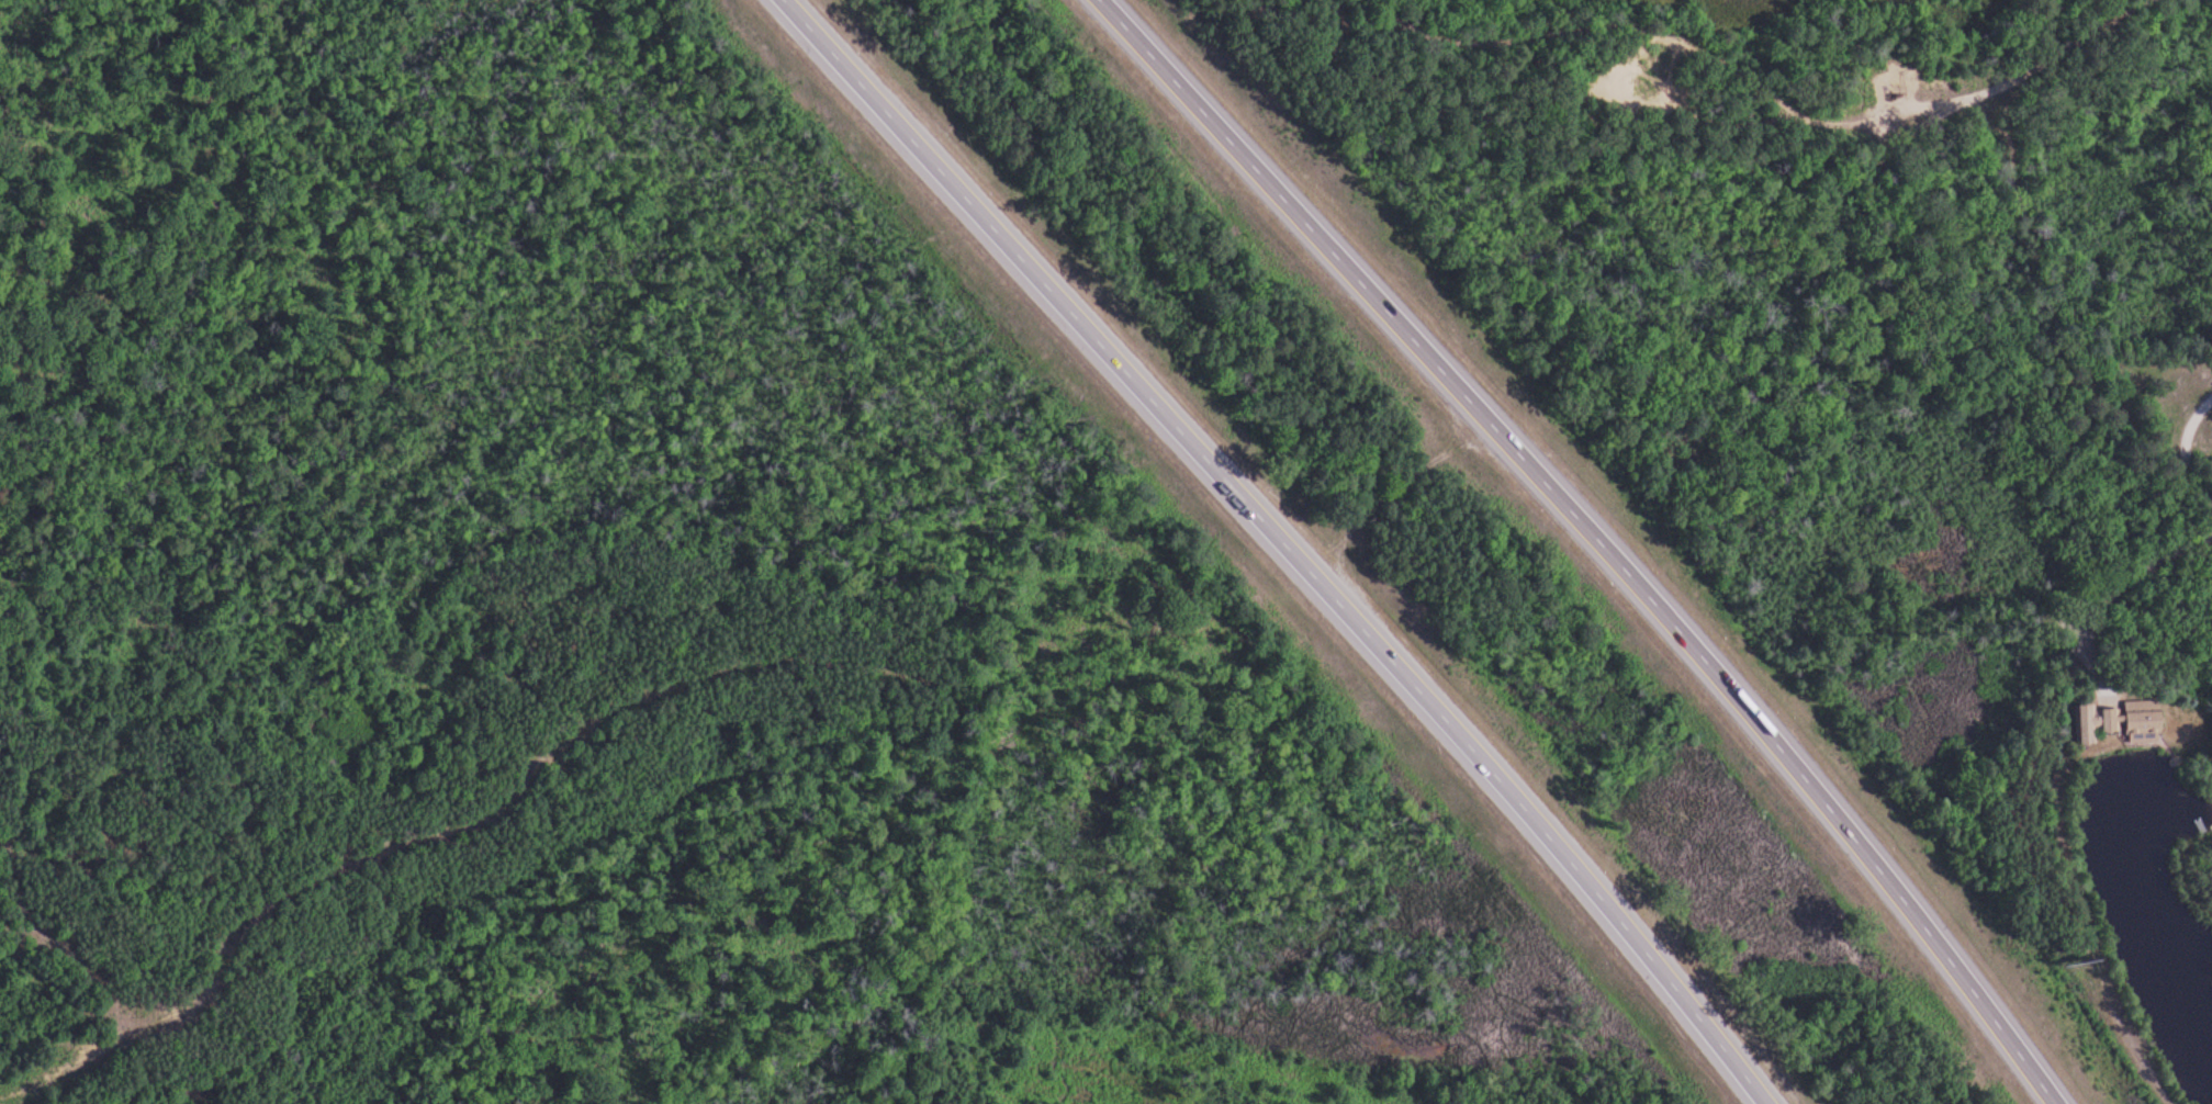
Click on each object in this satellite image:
road: (1570, 36)
petroleum well: (1894, 91)
road: (1987, 97)
road: (1594, 534)
road: (1285, 543)
building: (2145, 719)
building: (2096, 722)
road: (257, 927)

